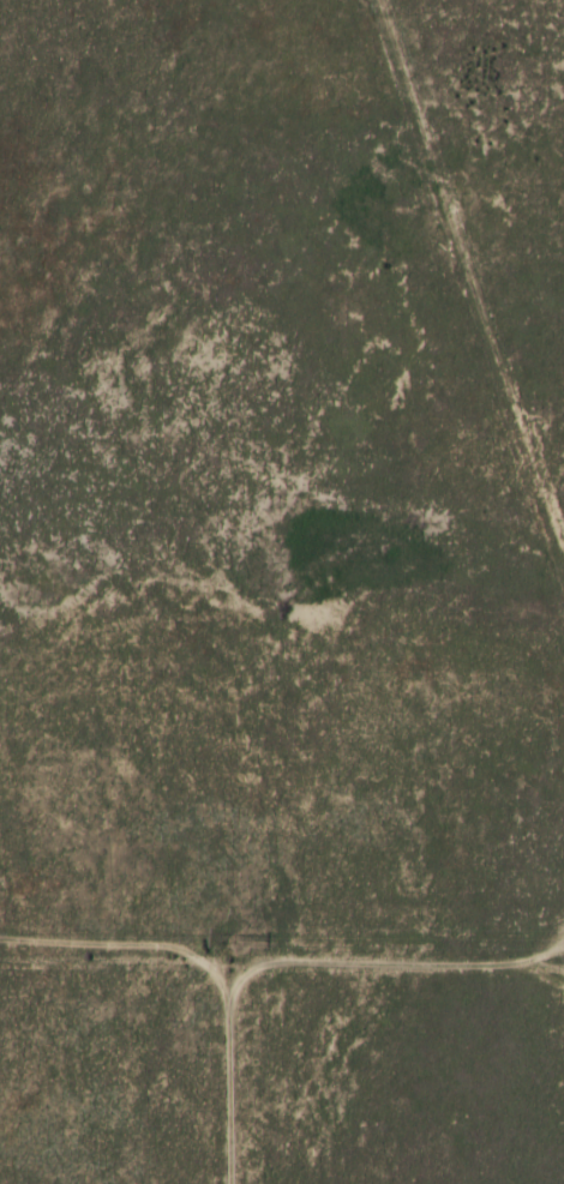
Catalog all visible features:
power tower: (223, 936)

